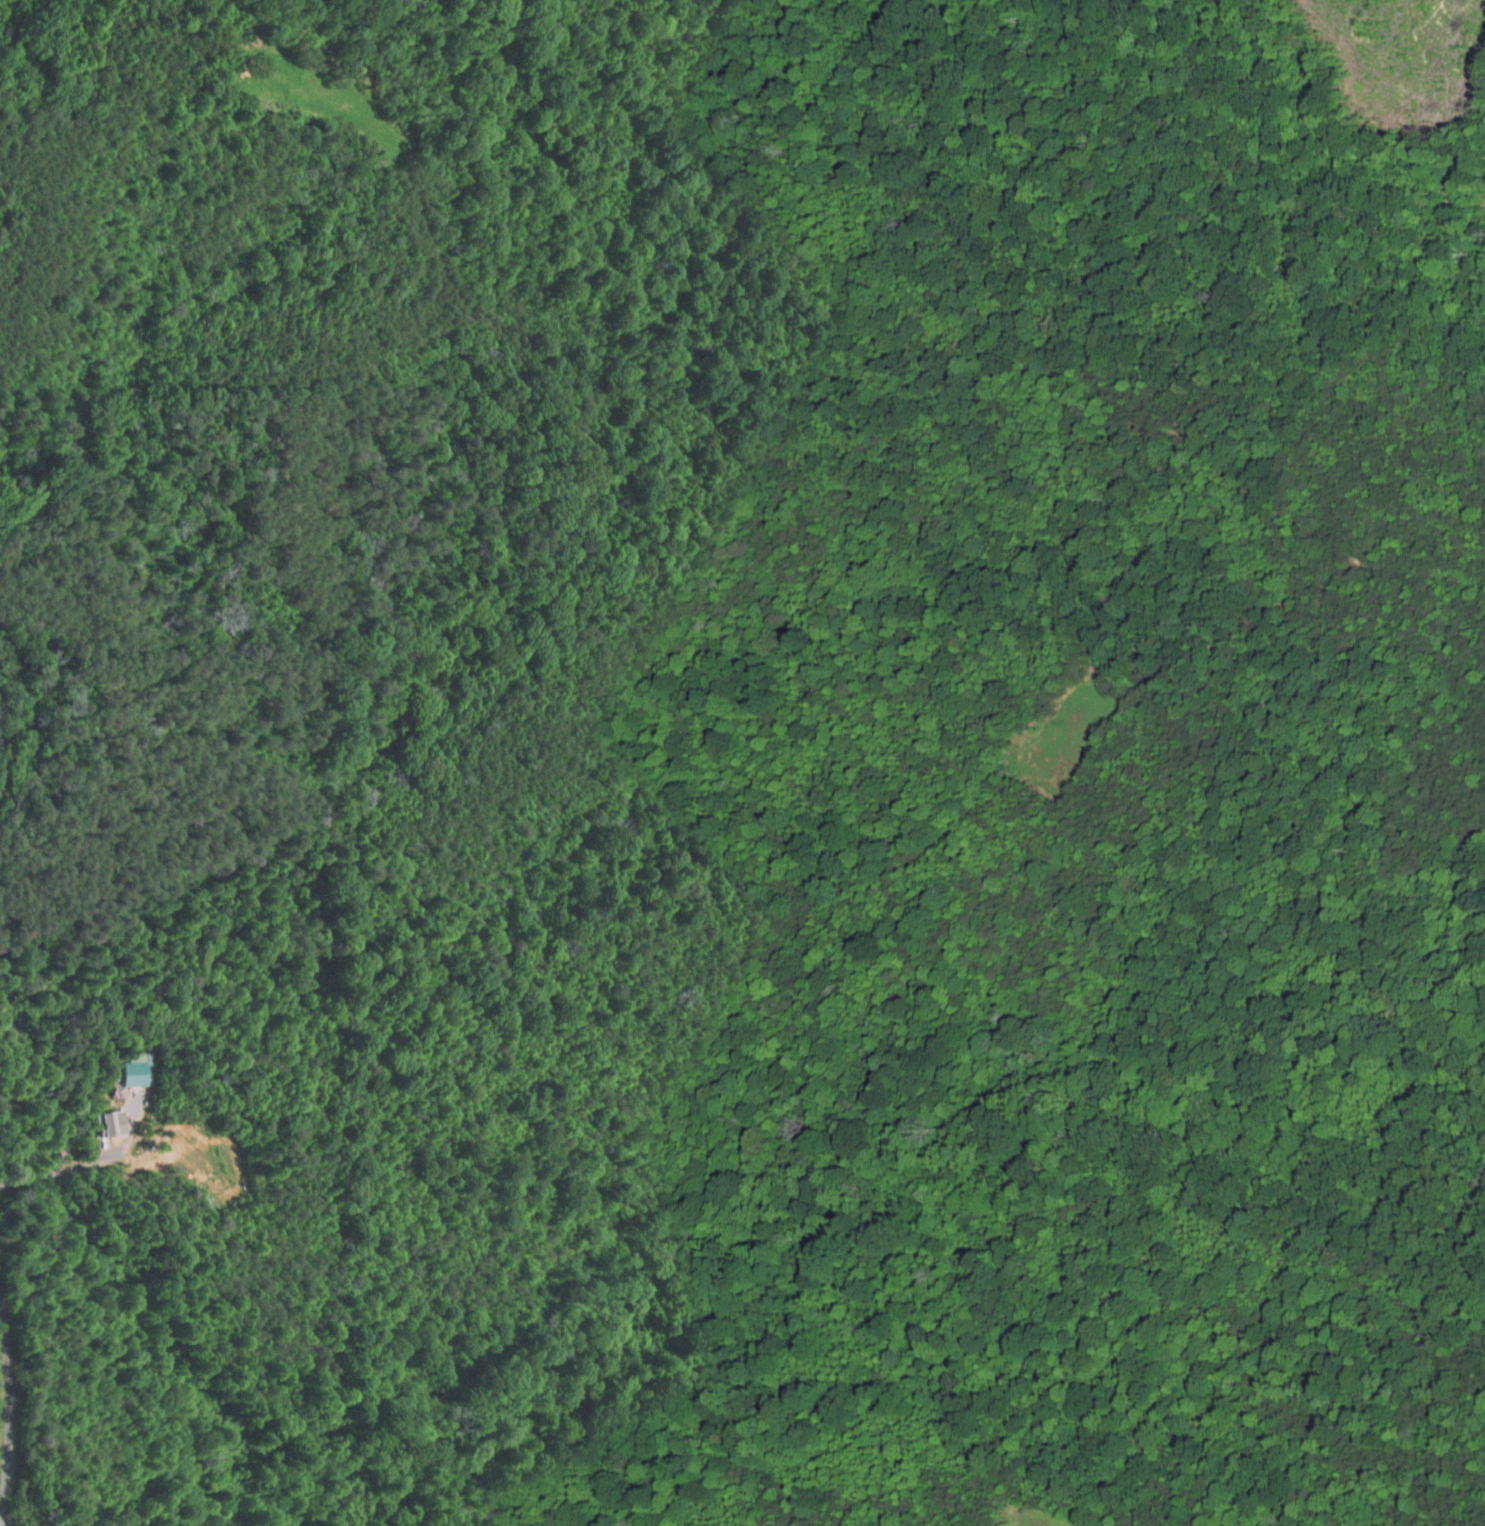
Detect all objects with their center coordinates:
building: (126, 1063)
building: (102, 1117)
road: (79, 1163)
road: (10, 1397)

